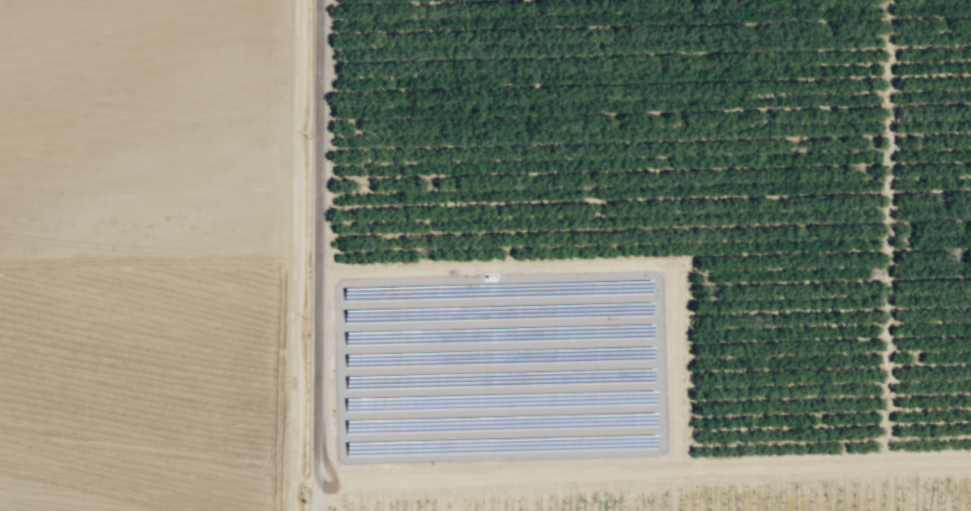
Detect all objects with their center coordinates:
road: (316, 255)
road: (593, 264)
solar farm: (500, 367)
crop: (544, 399)
road: (642, 467)
road: (737, 488)

